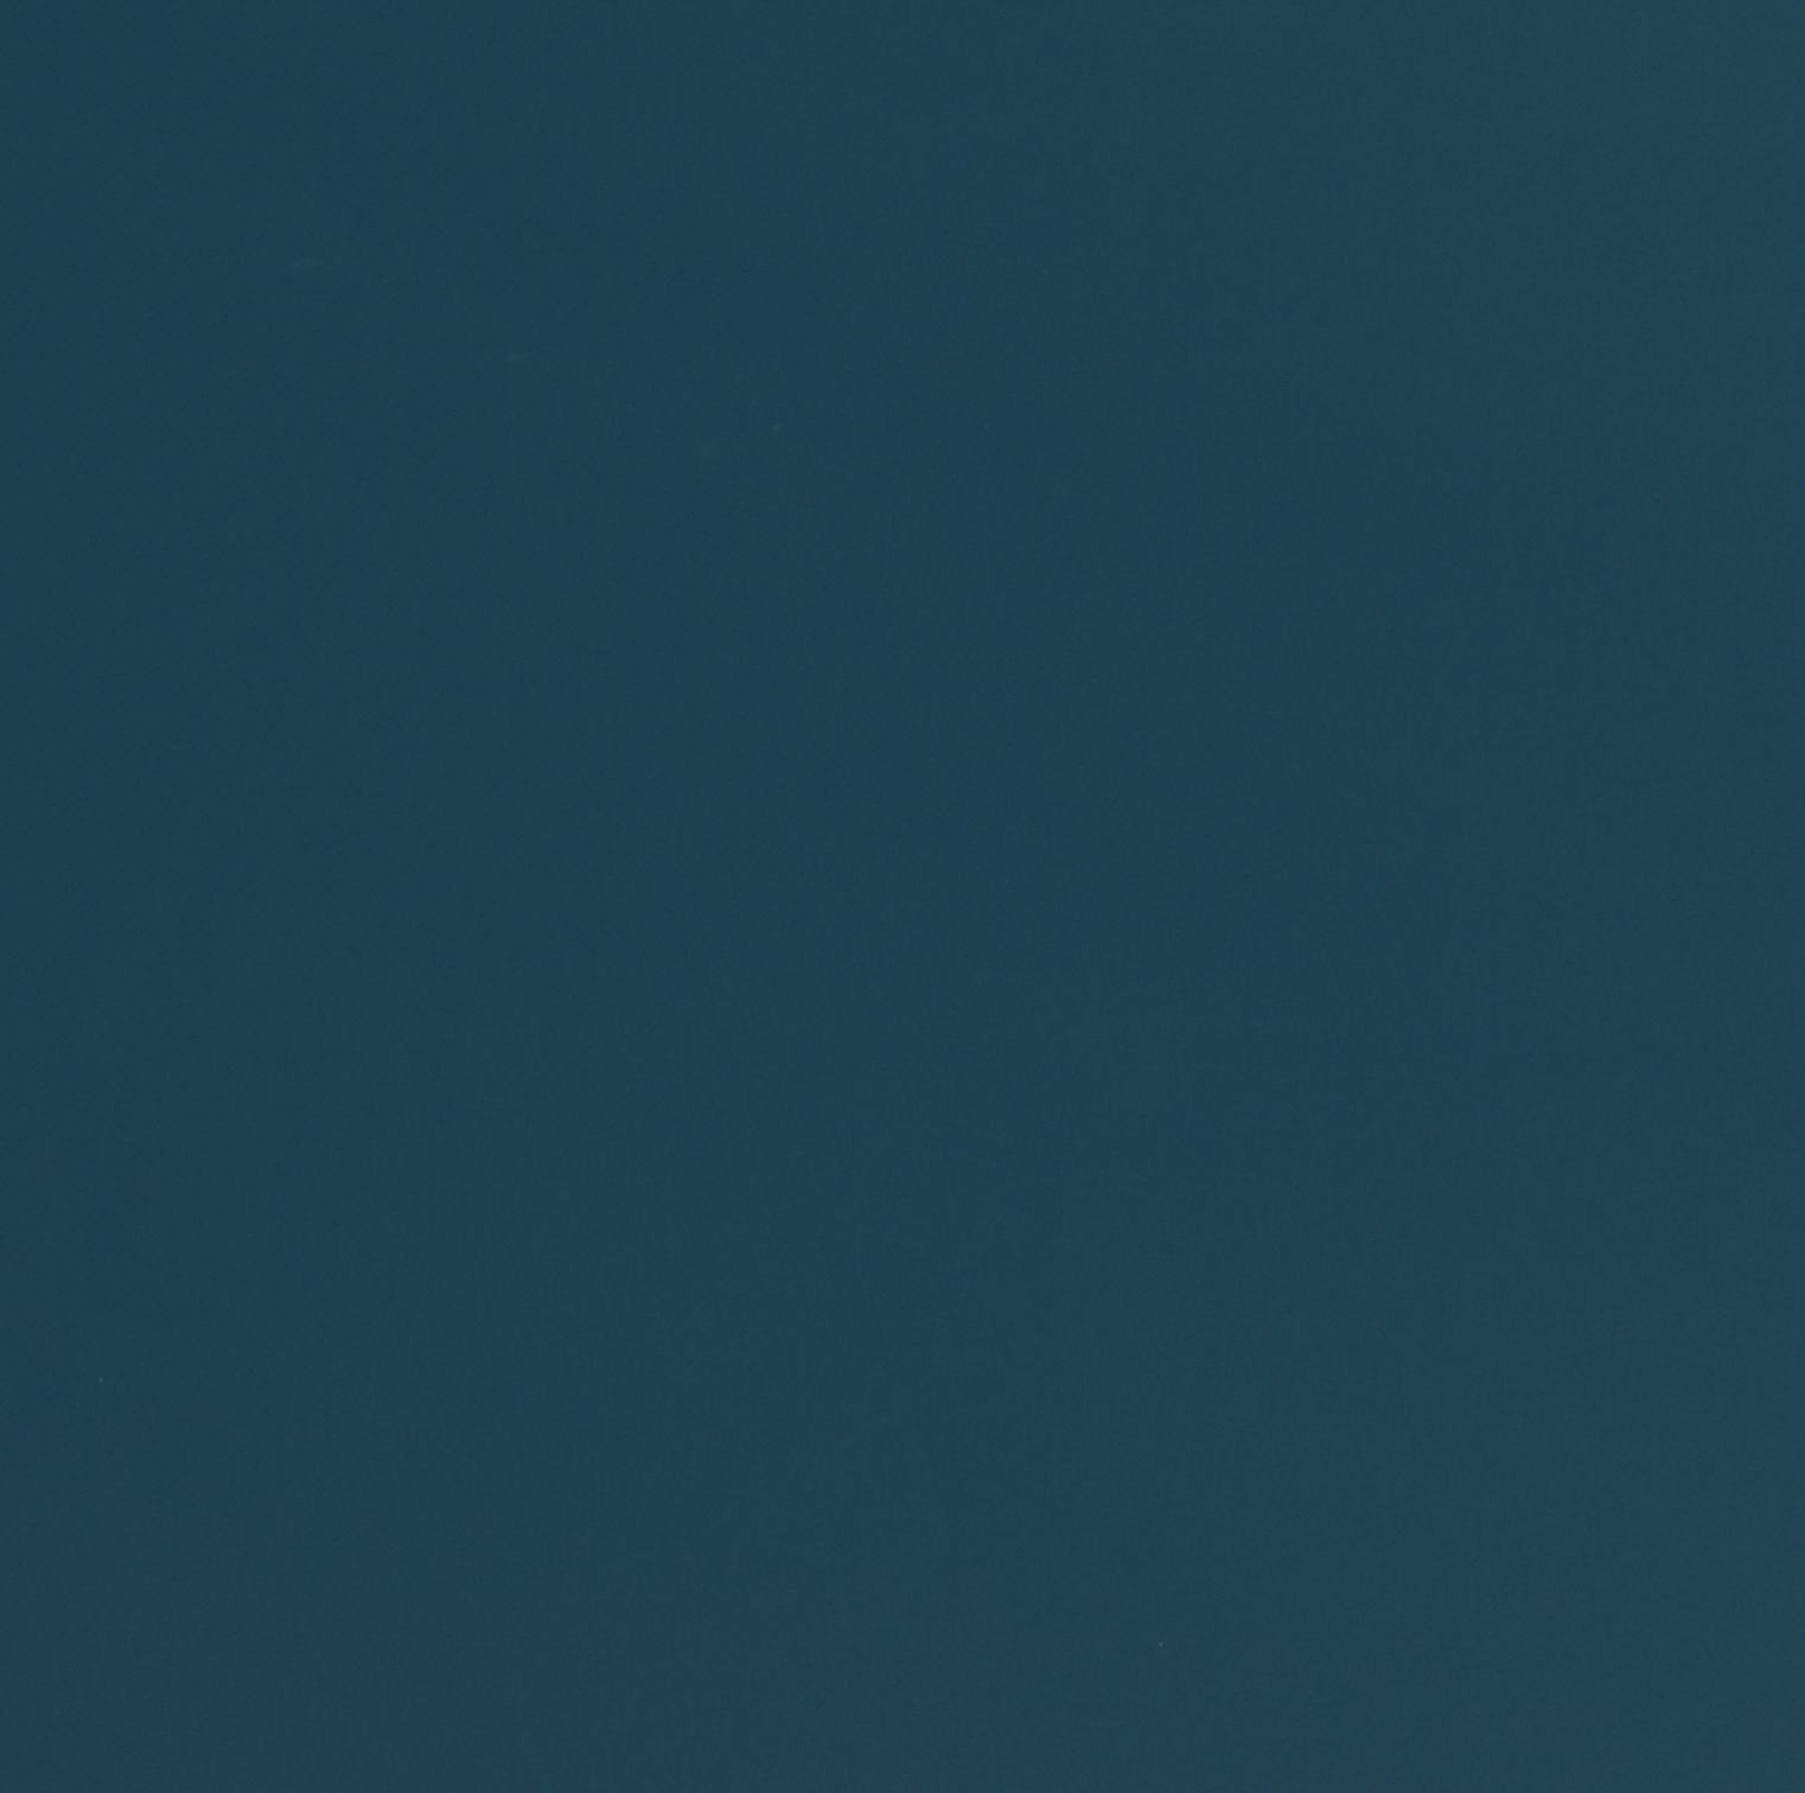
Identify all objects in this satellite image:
river: (847, 1354)

